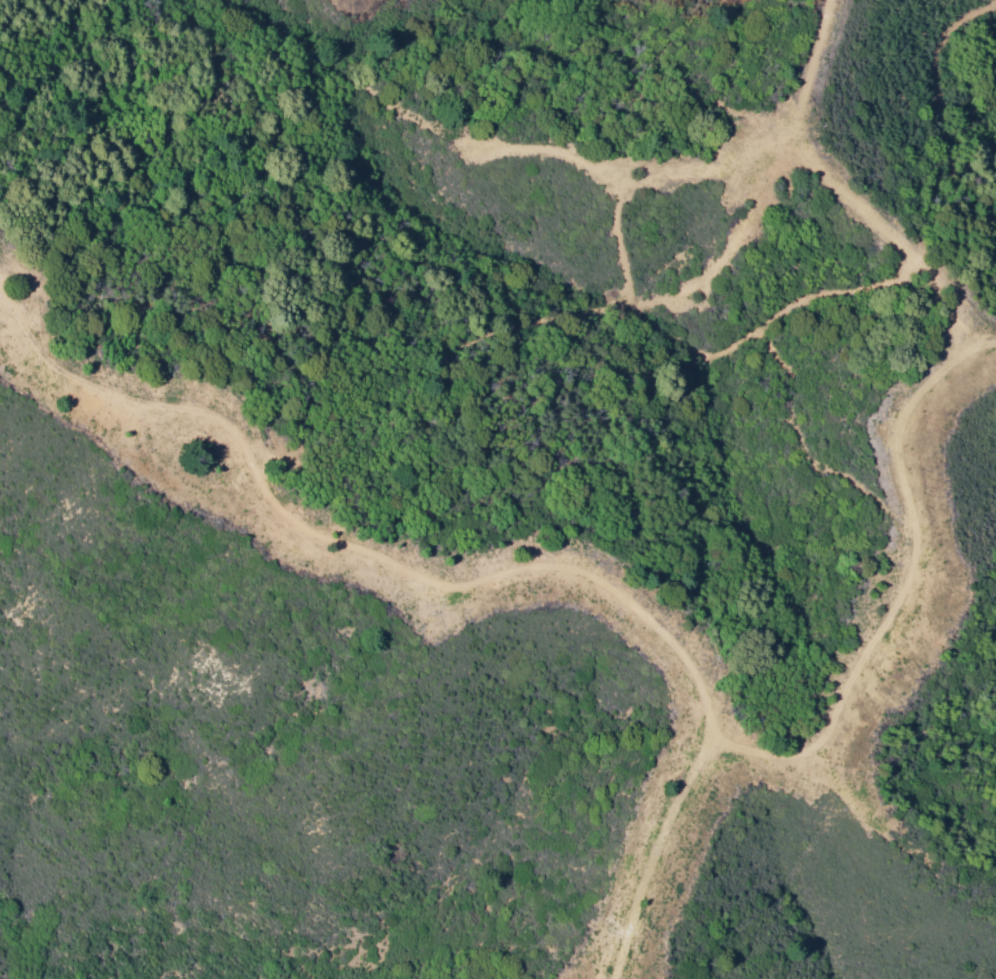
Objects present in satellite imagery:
road: (855, 202)

